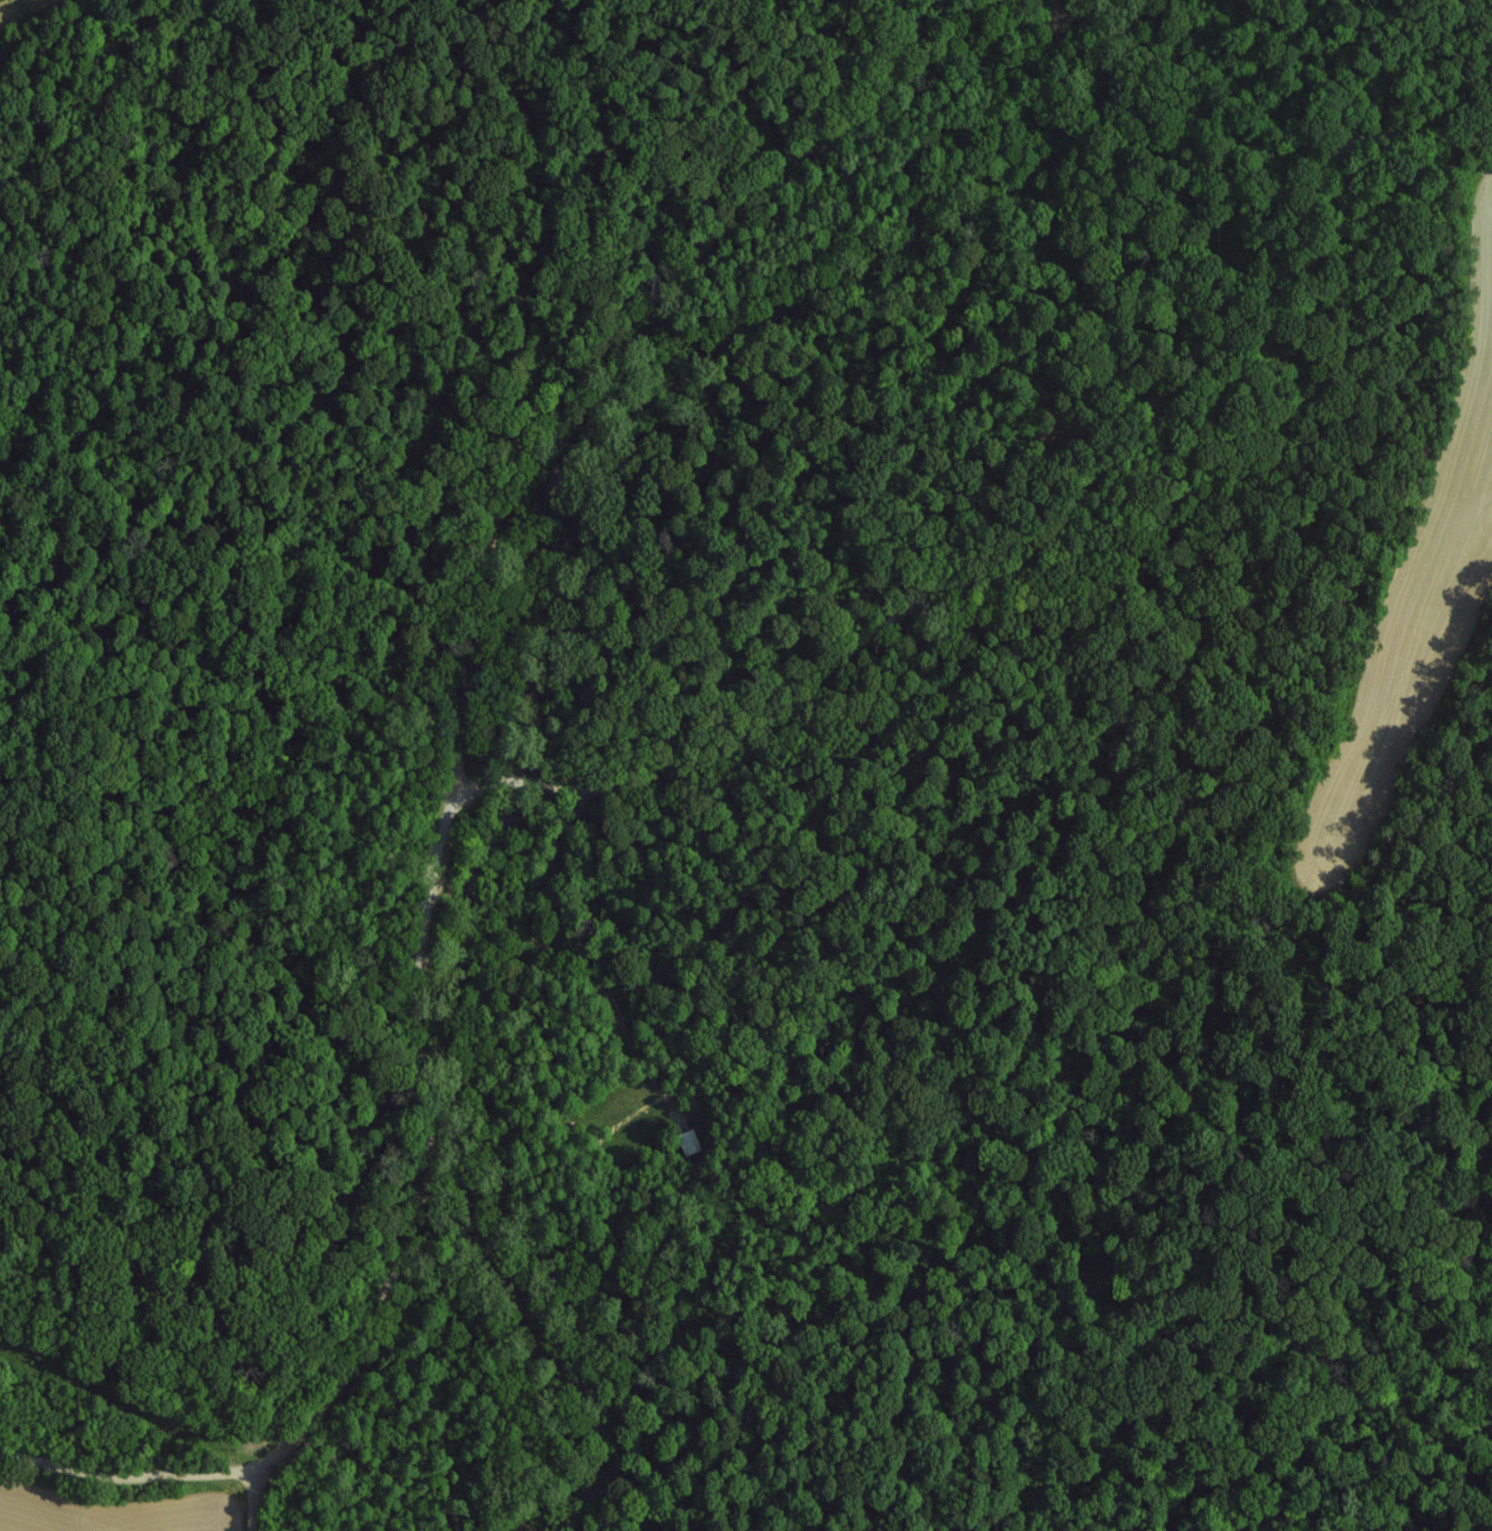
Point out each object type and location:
road: (1014, 552)
road: (464, 667)
road: (128, 1476)
road: (247, 1511)

